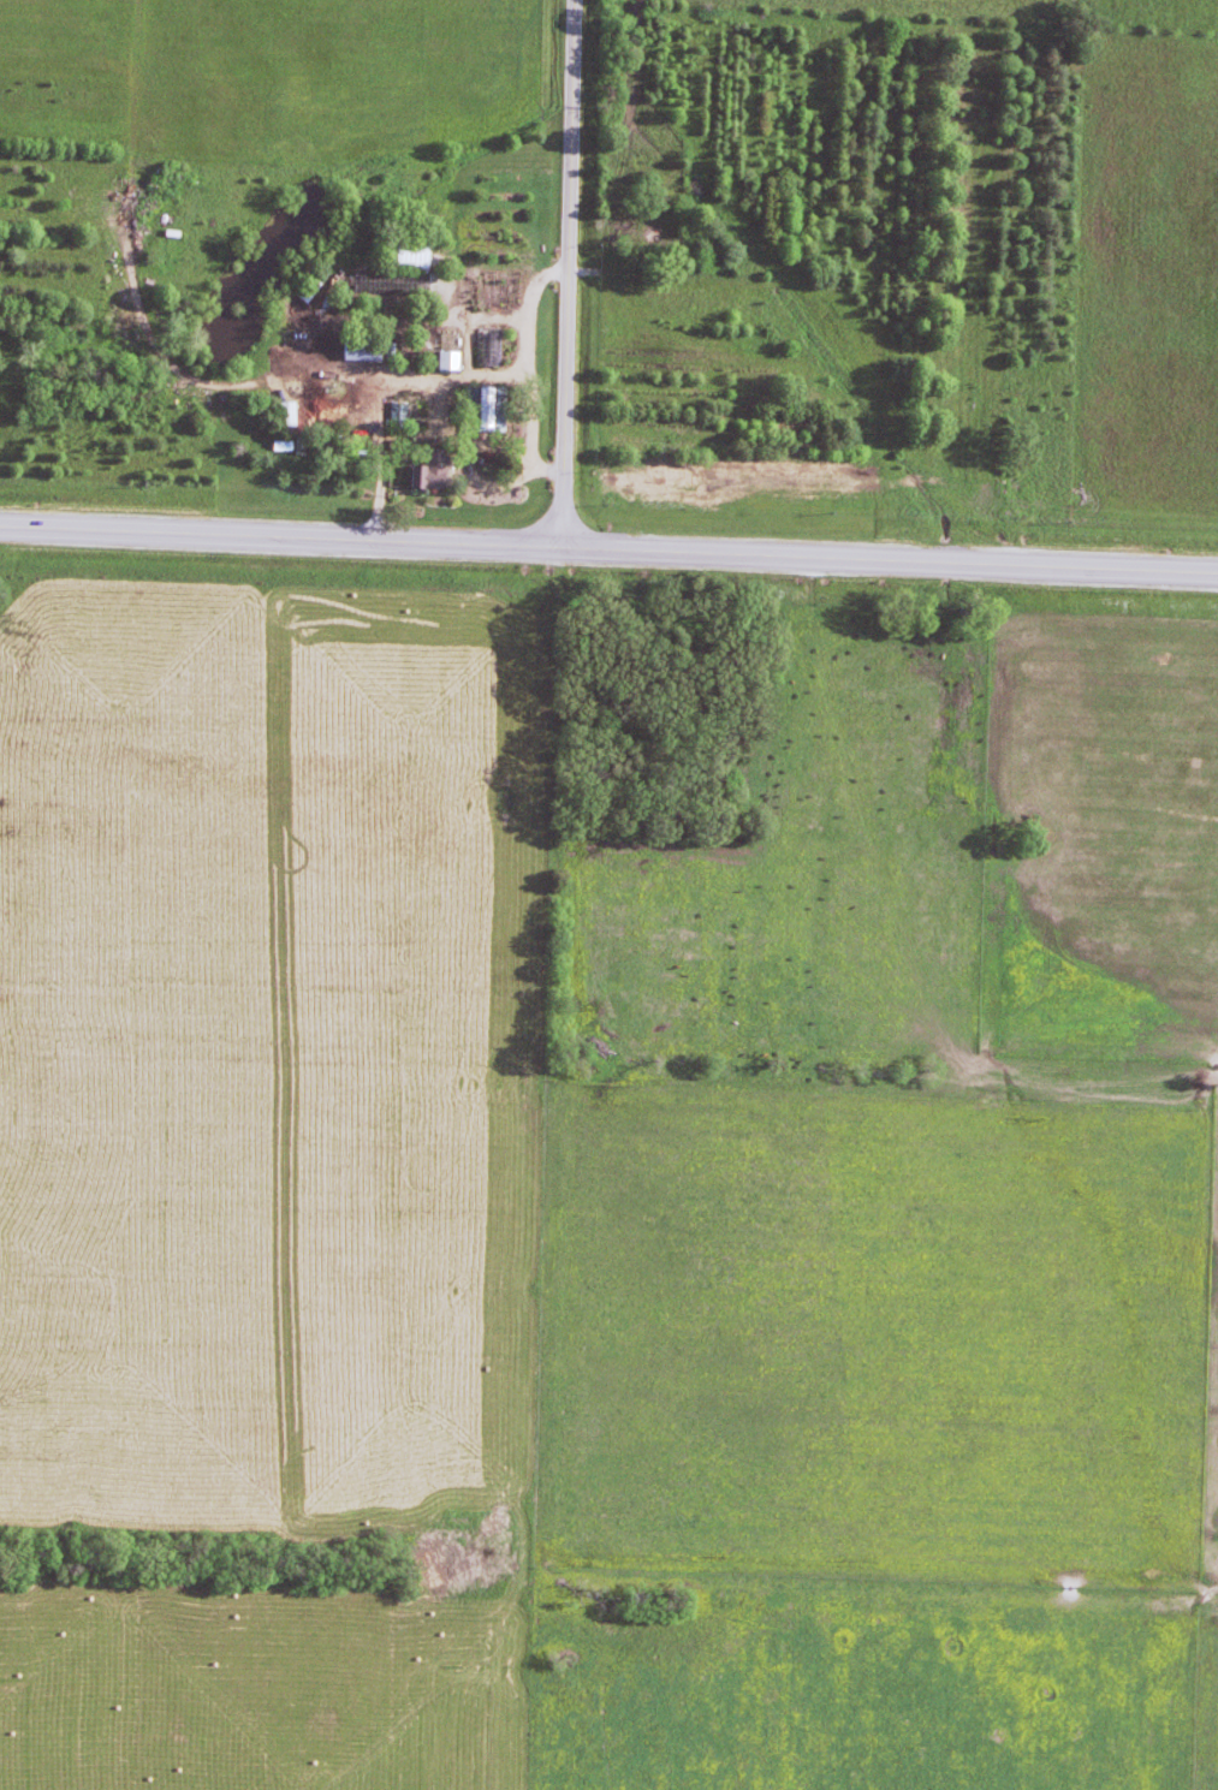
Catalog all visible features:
road: (562, 275)
road: (493, 322)
building: (357, 349)
road: (462, 350)
building: (482, 351)
building: (442, 368)
road: (522, 377)
road: (180, 385)
building: (479, 412)
building: (281, 416)
road: (445, 448)
building: (275, 450)
building: (293, 450)
road: (370, 464)
building: (422, 471)
road: (608, 553)

